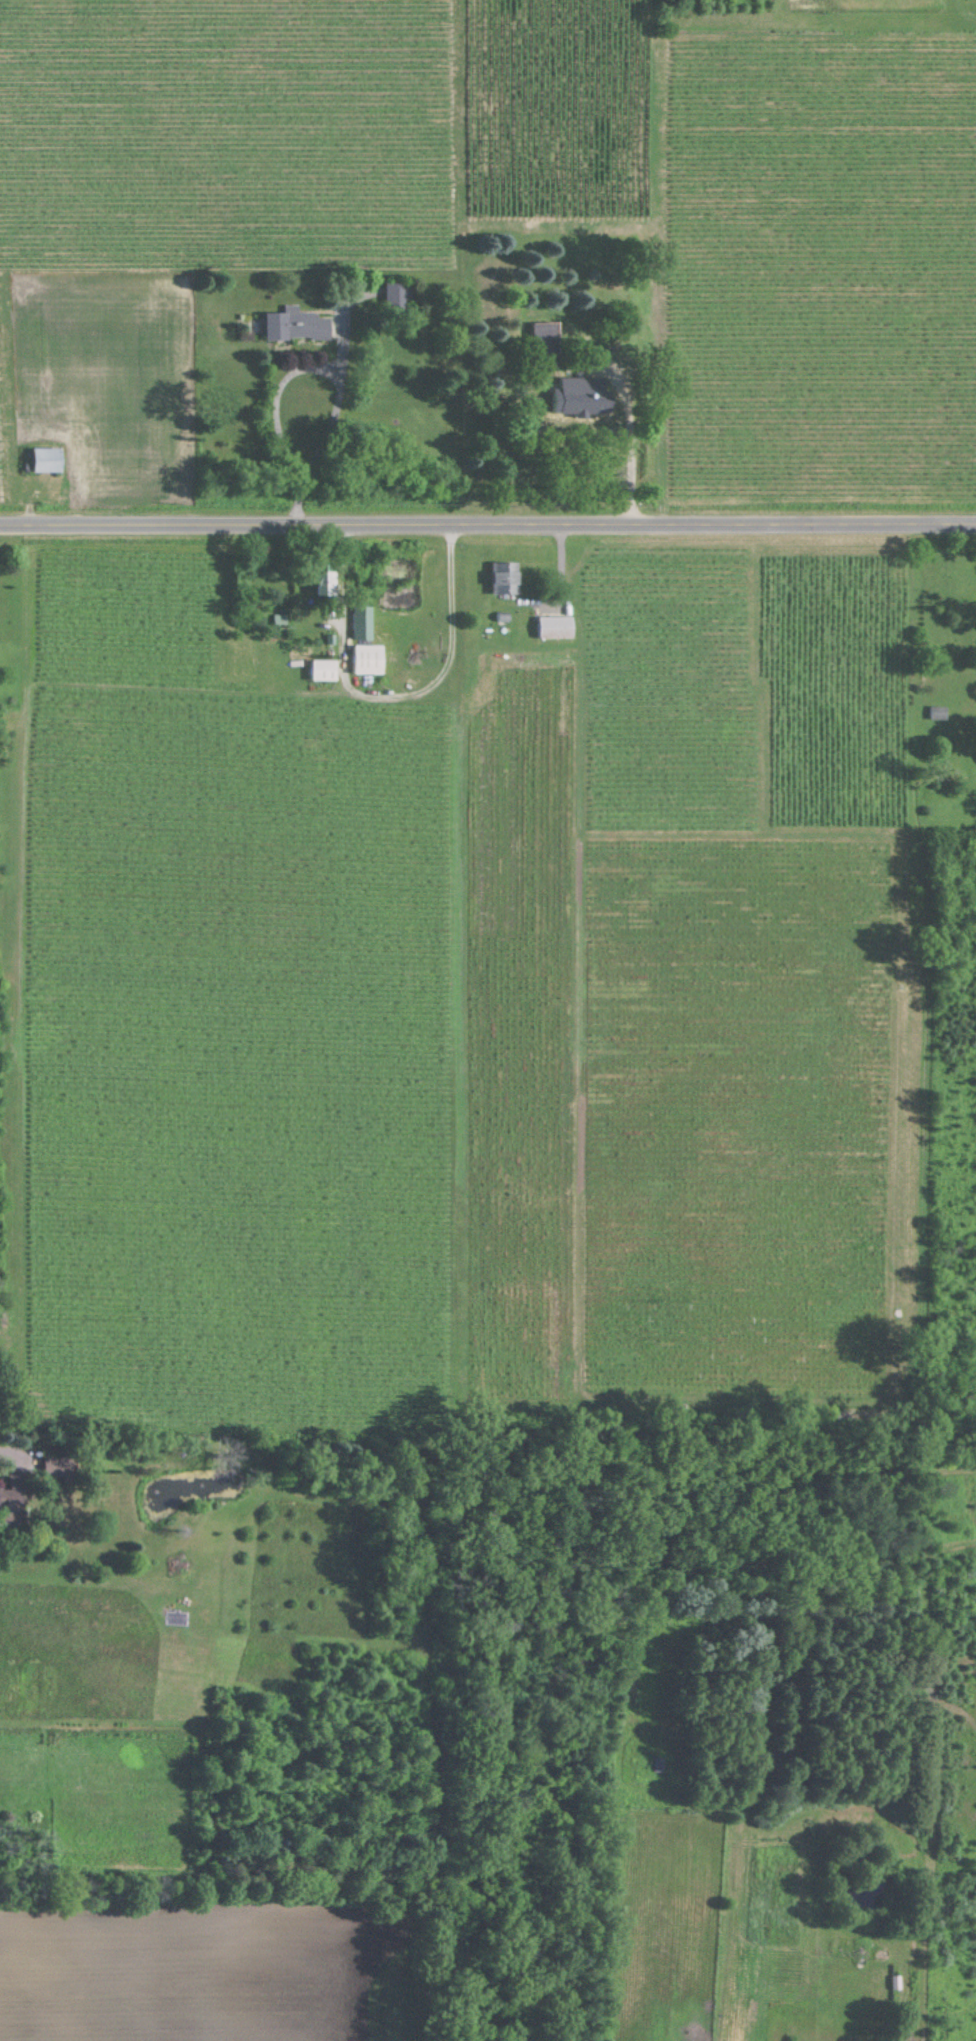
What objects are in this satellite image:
building: (396, 296)
building: (297, 324)
building: (546, 328)
road: (321, 379)
road: (629, 431)
building: (46, 459)
road: (488, 522)
building: (507, 577)
building: (363, 622)
building: (557, 625)
building: (370, 658)
building: (324, 669)
building: (939, 710)
road: (13, 1458)
building: (57, 1465)
building: (12, 1496)
building: (659, 1764)

